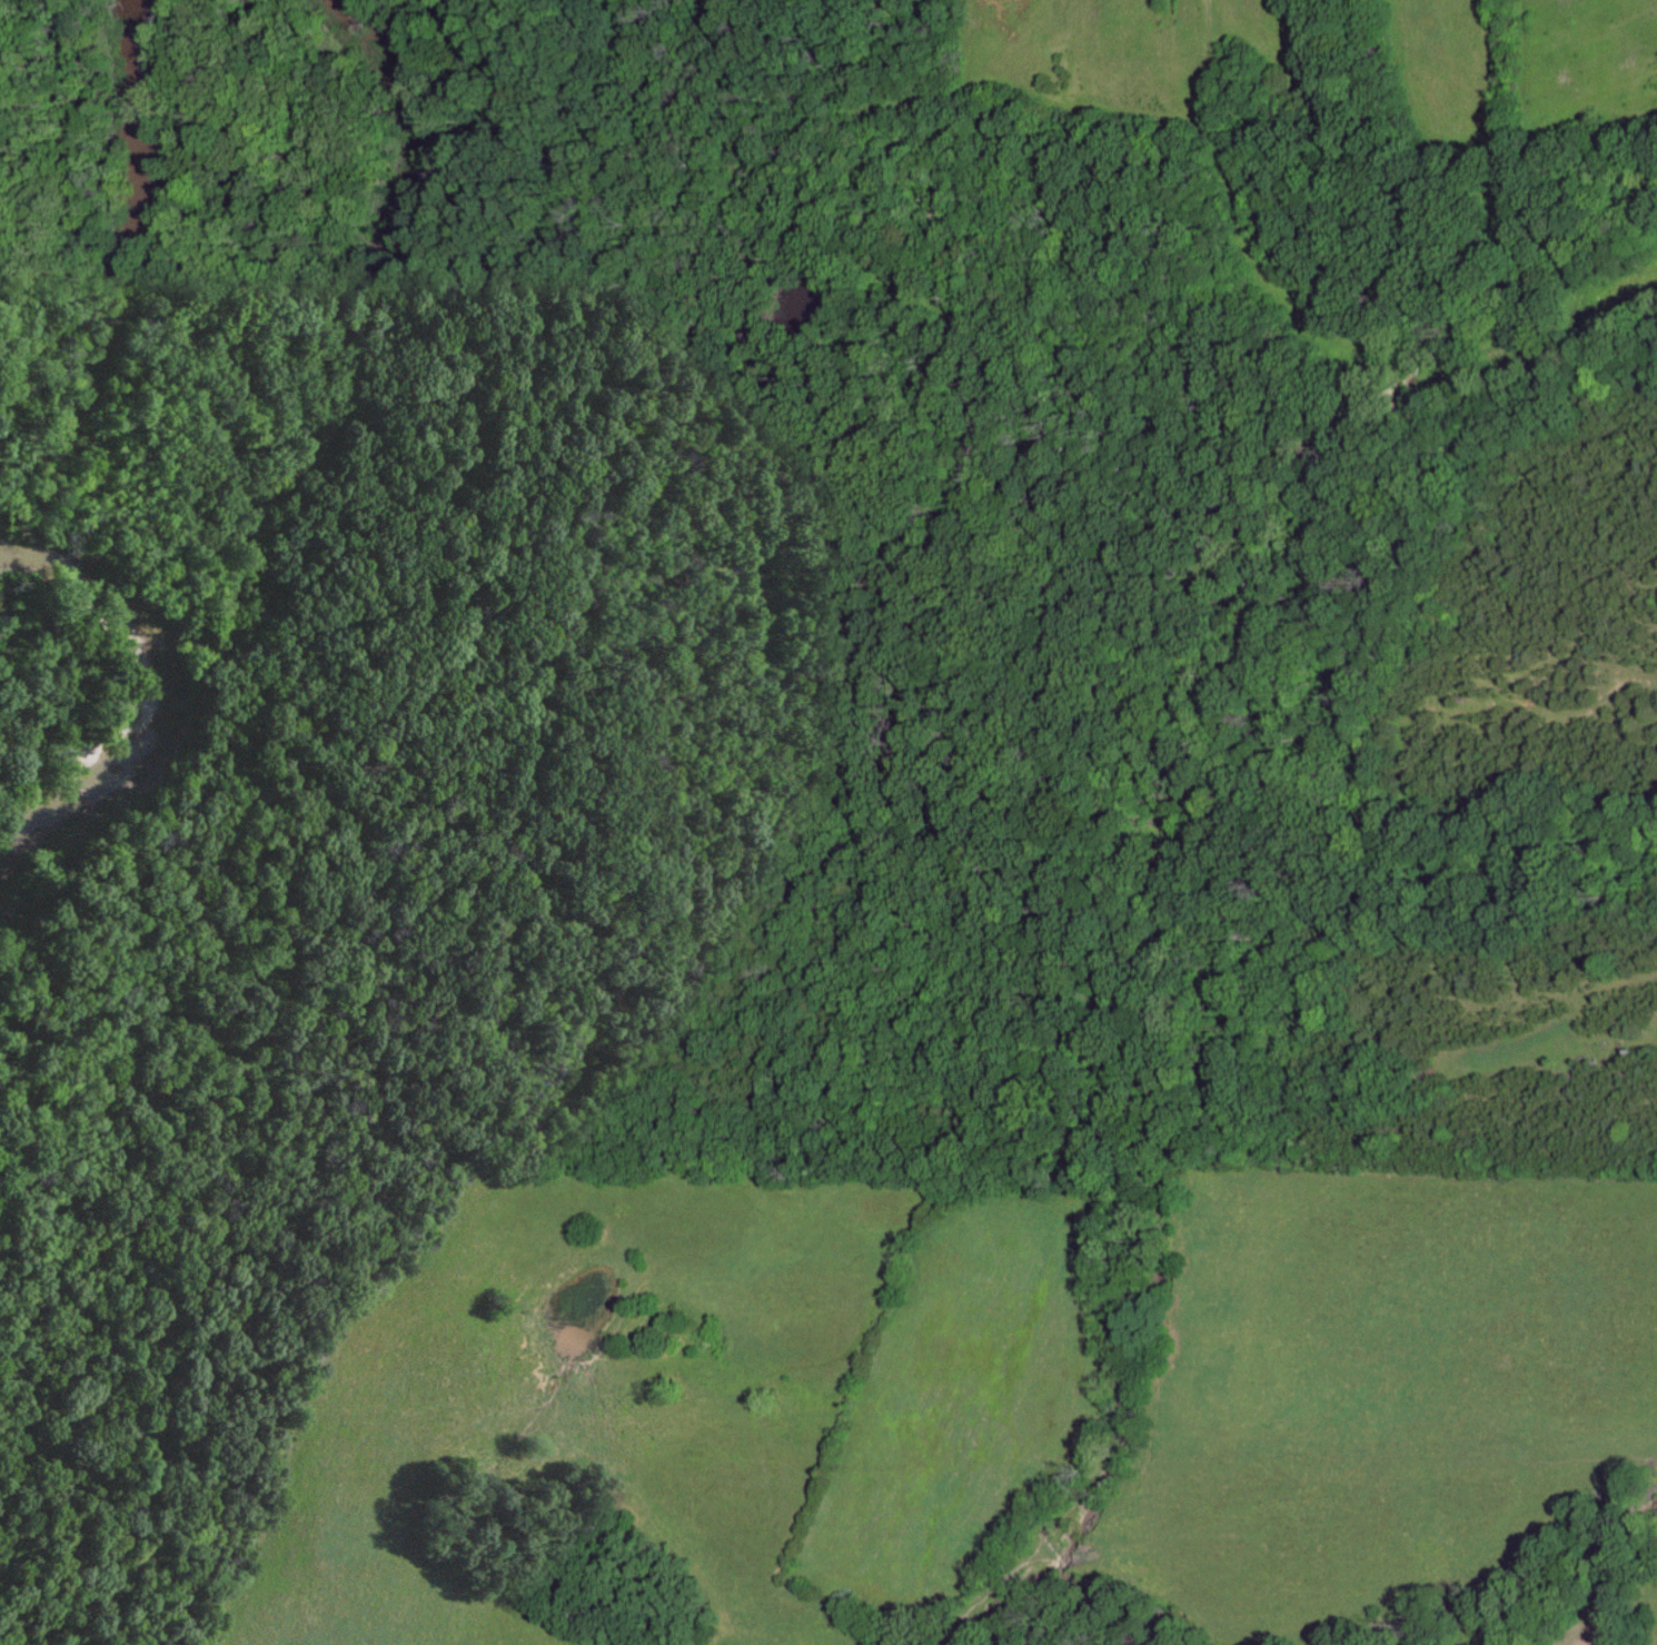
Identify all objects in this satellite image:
road: (1332, 314)

